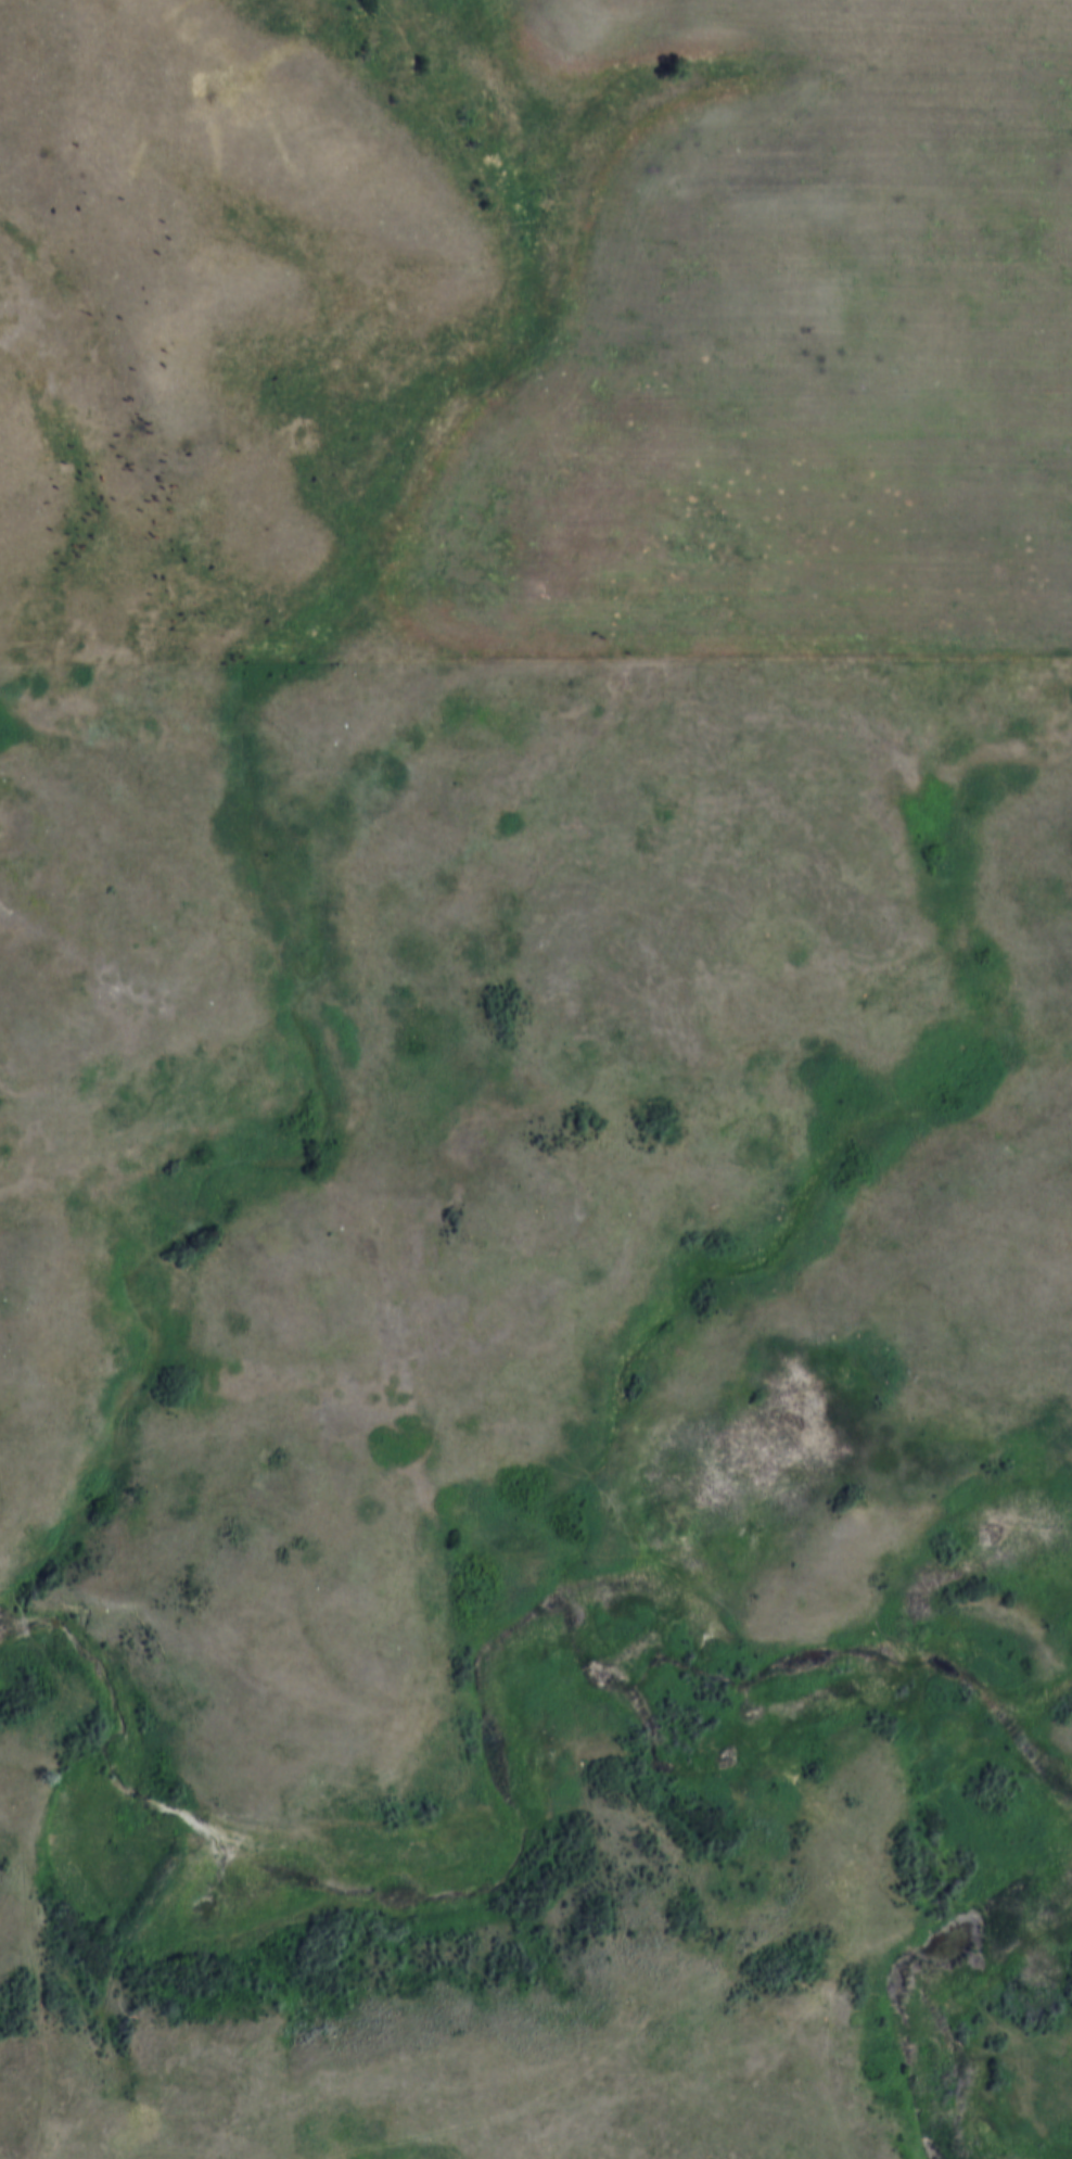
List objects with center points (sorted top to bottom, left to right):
road: (544, 671)
road: (38, 2008)

